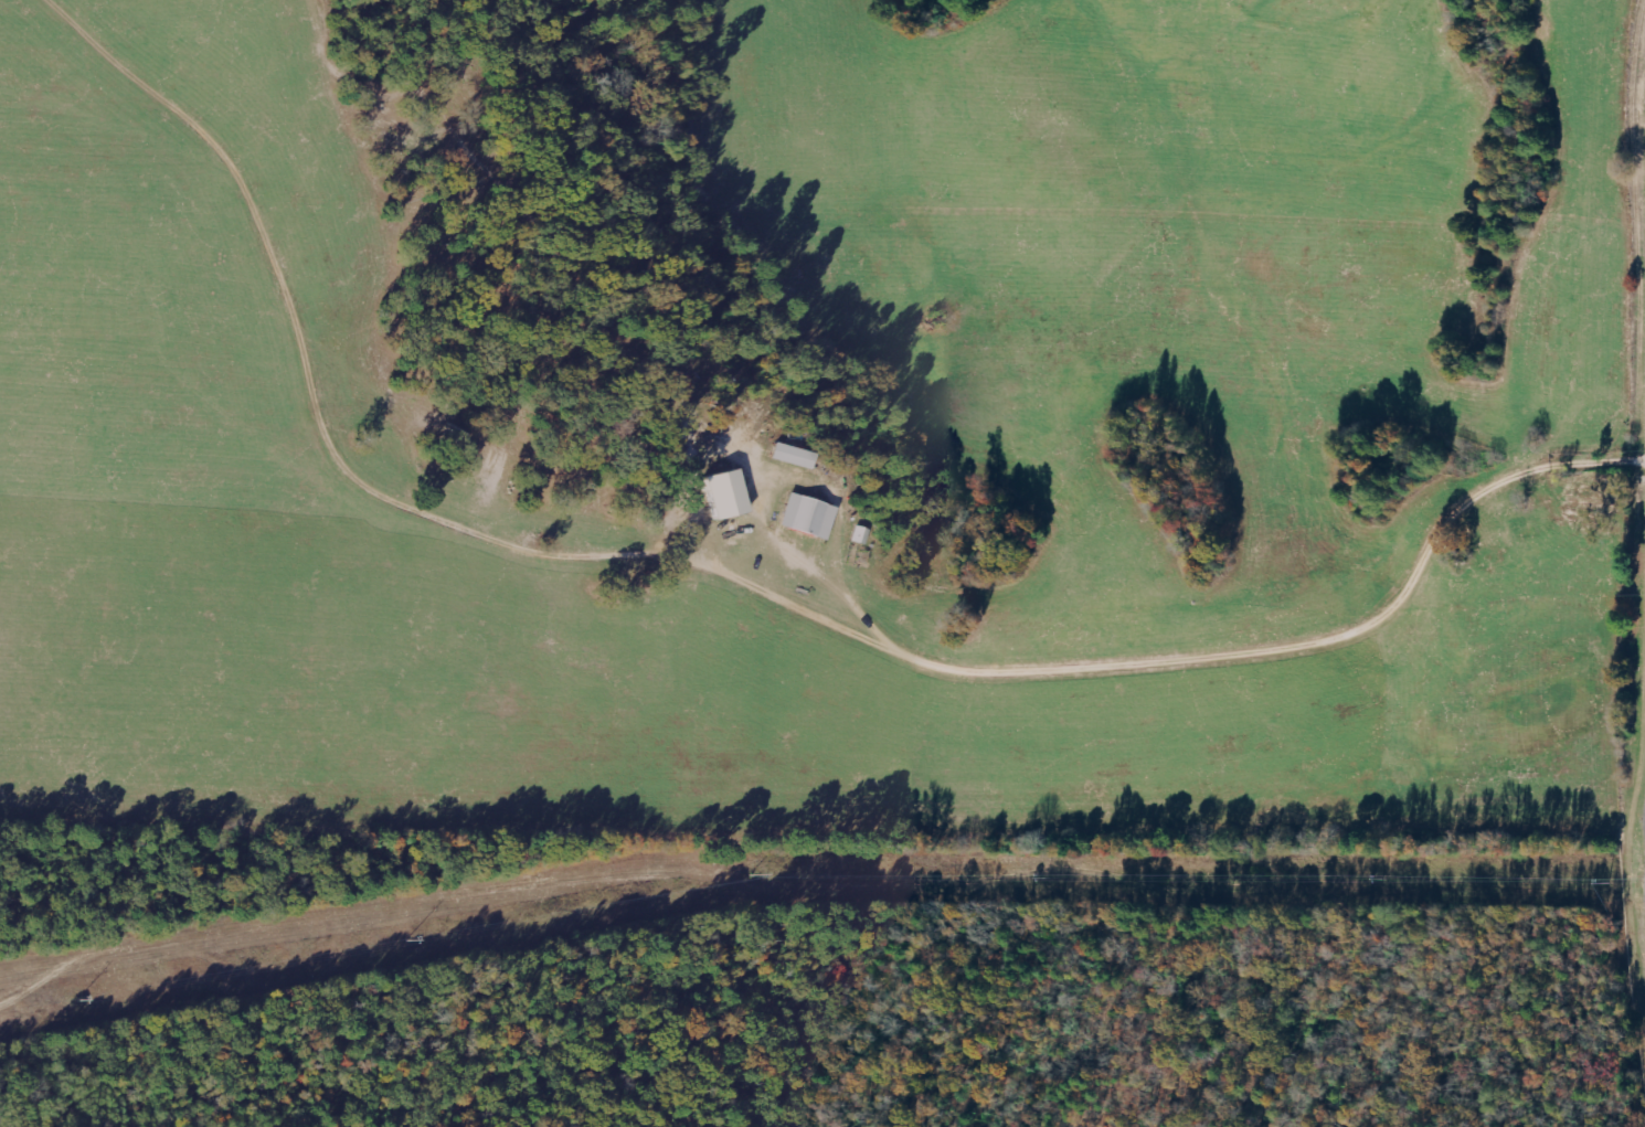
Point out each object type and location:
building: (792, 456)
building: (1604, 492)
building: (724, 493)
building: (807, 515)
building: (859, 535)
road: (1380, 1014)

